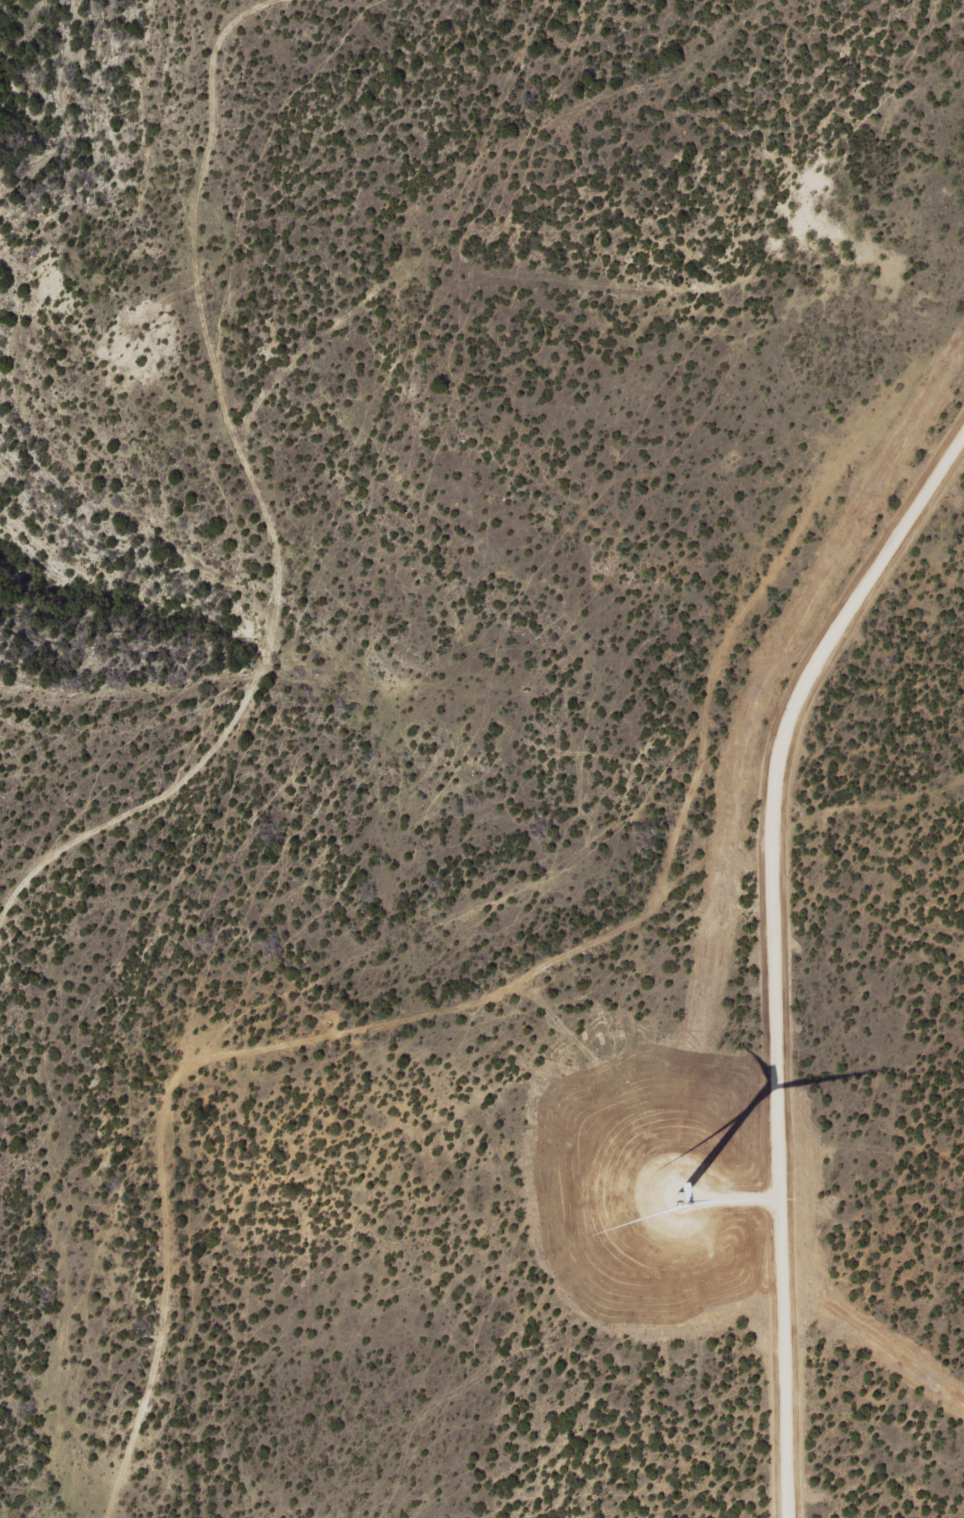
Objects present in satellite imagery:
wind turbine: (681, 1192)

